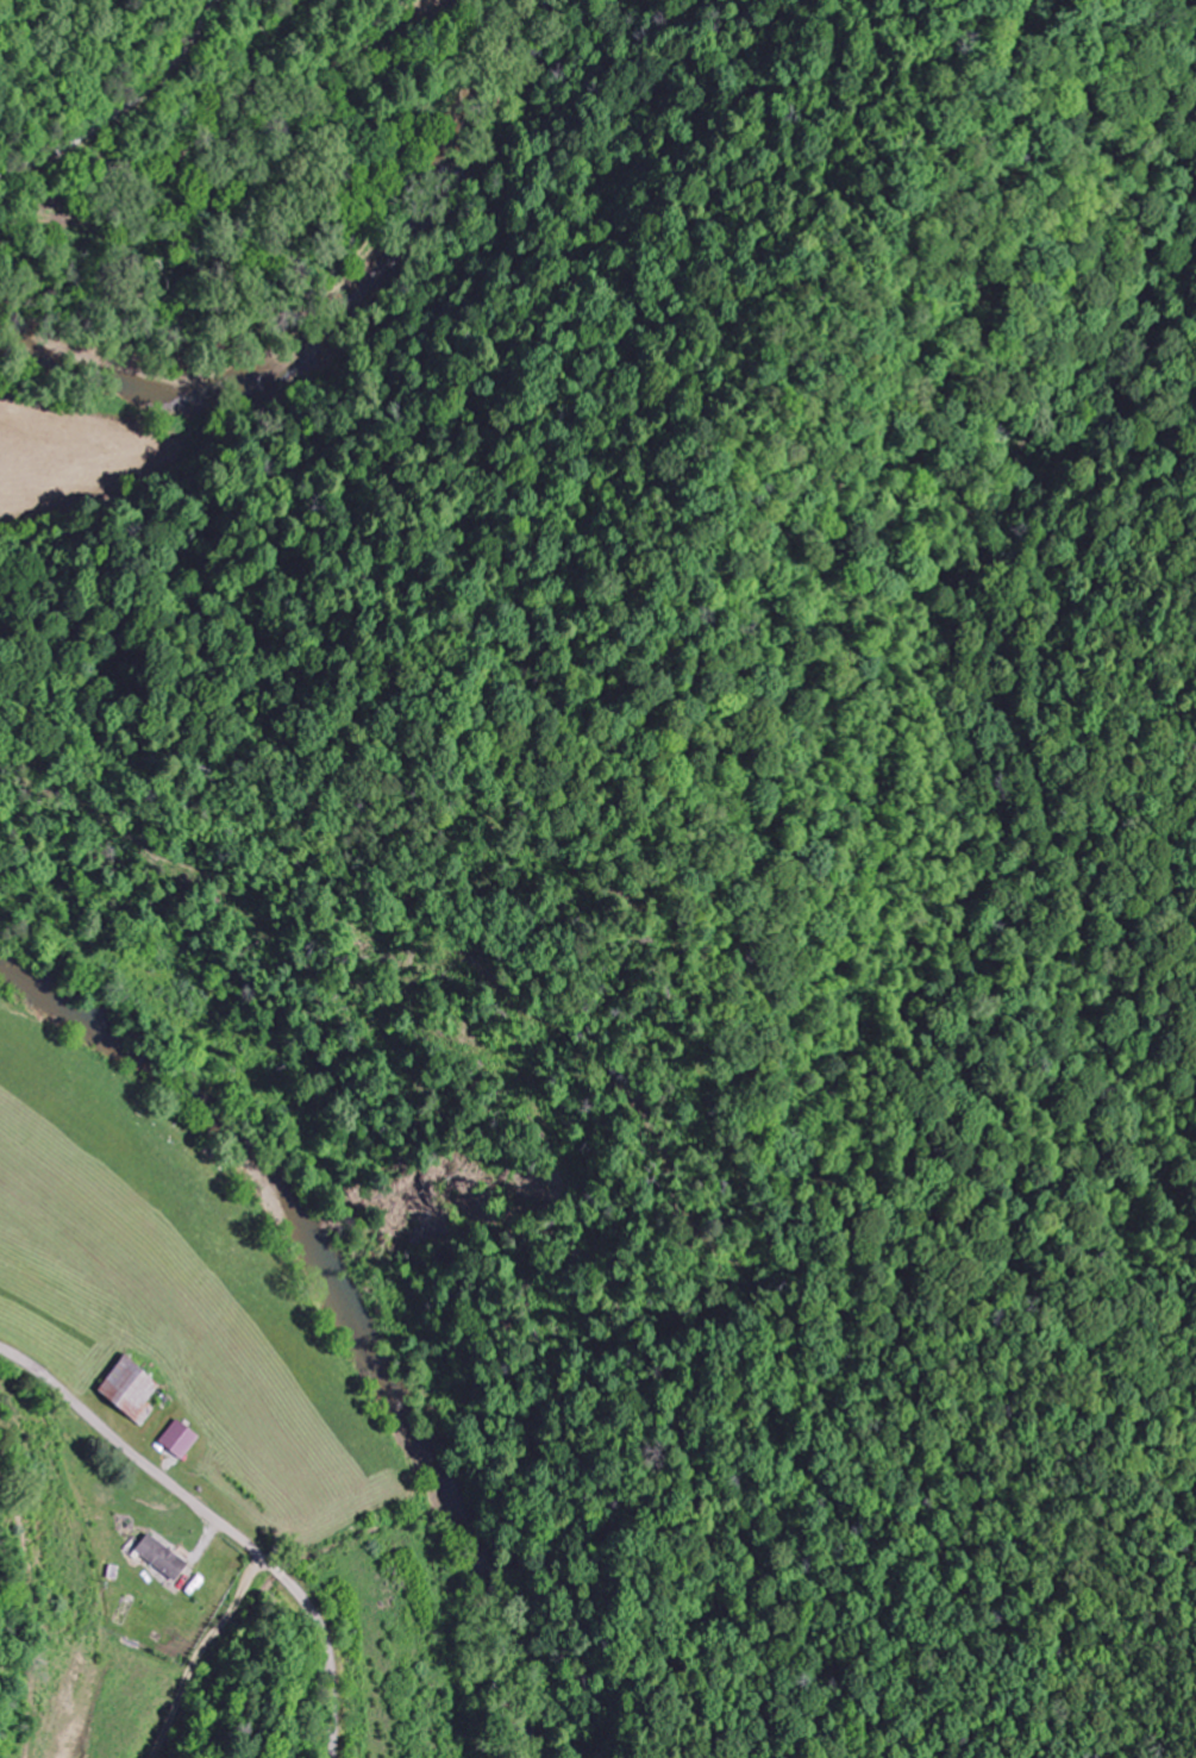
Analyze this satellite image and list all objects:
road: (119, 104)
building: (131, 1384)
building: (180, 1437)
road: (219, 1521)
building: (164, 1554)
road: (256, 1571)

